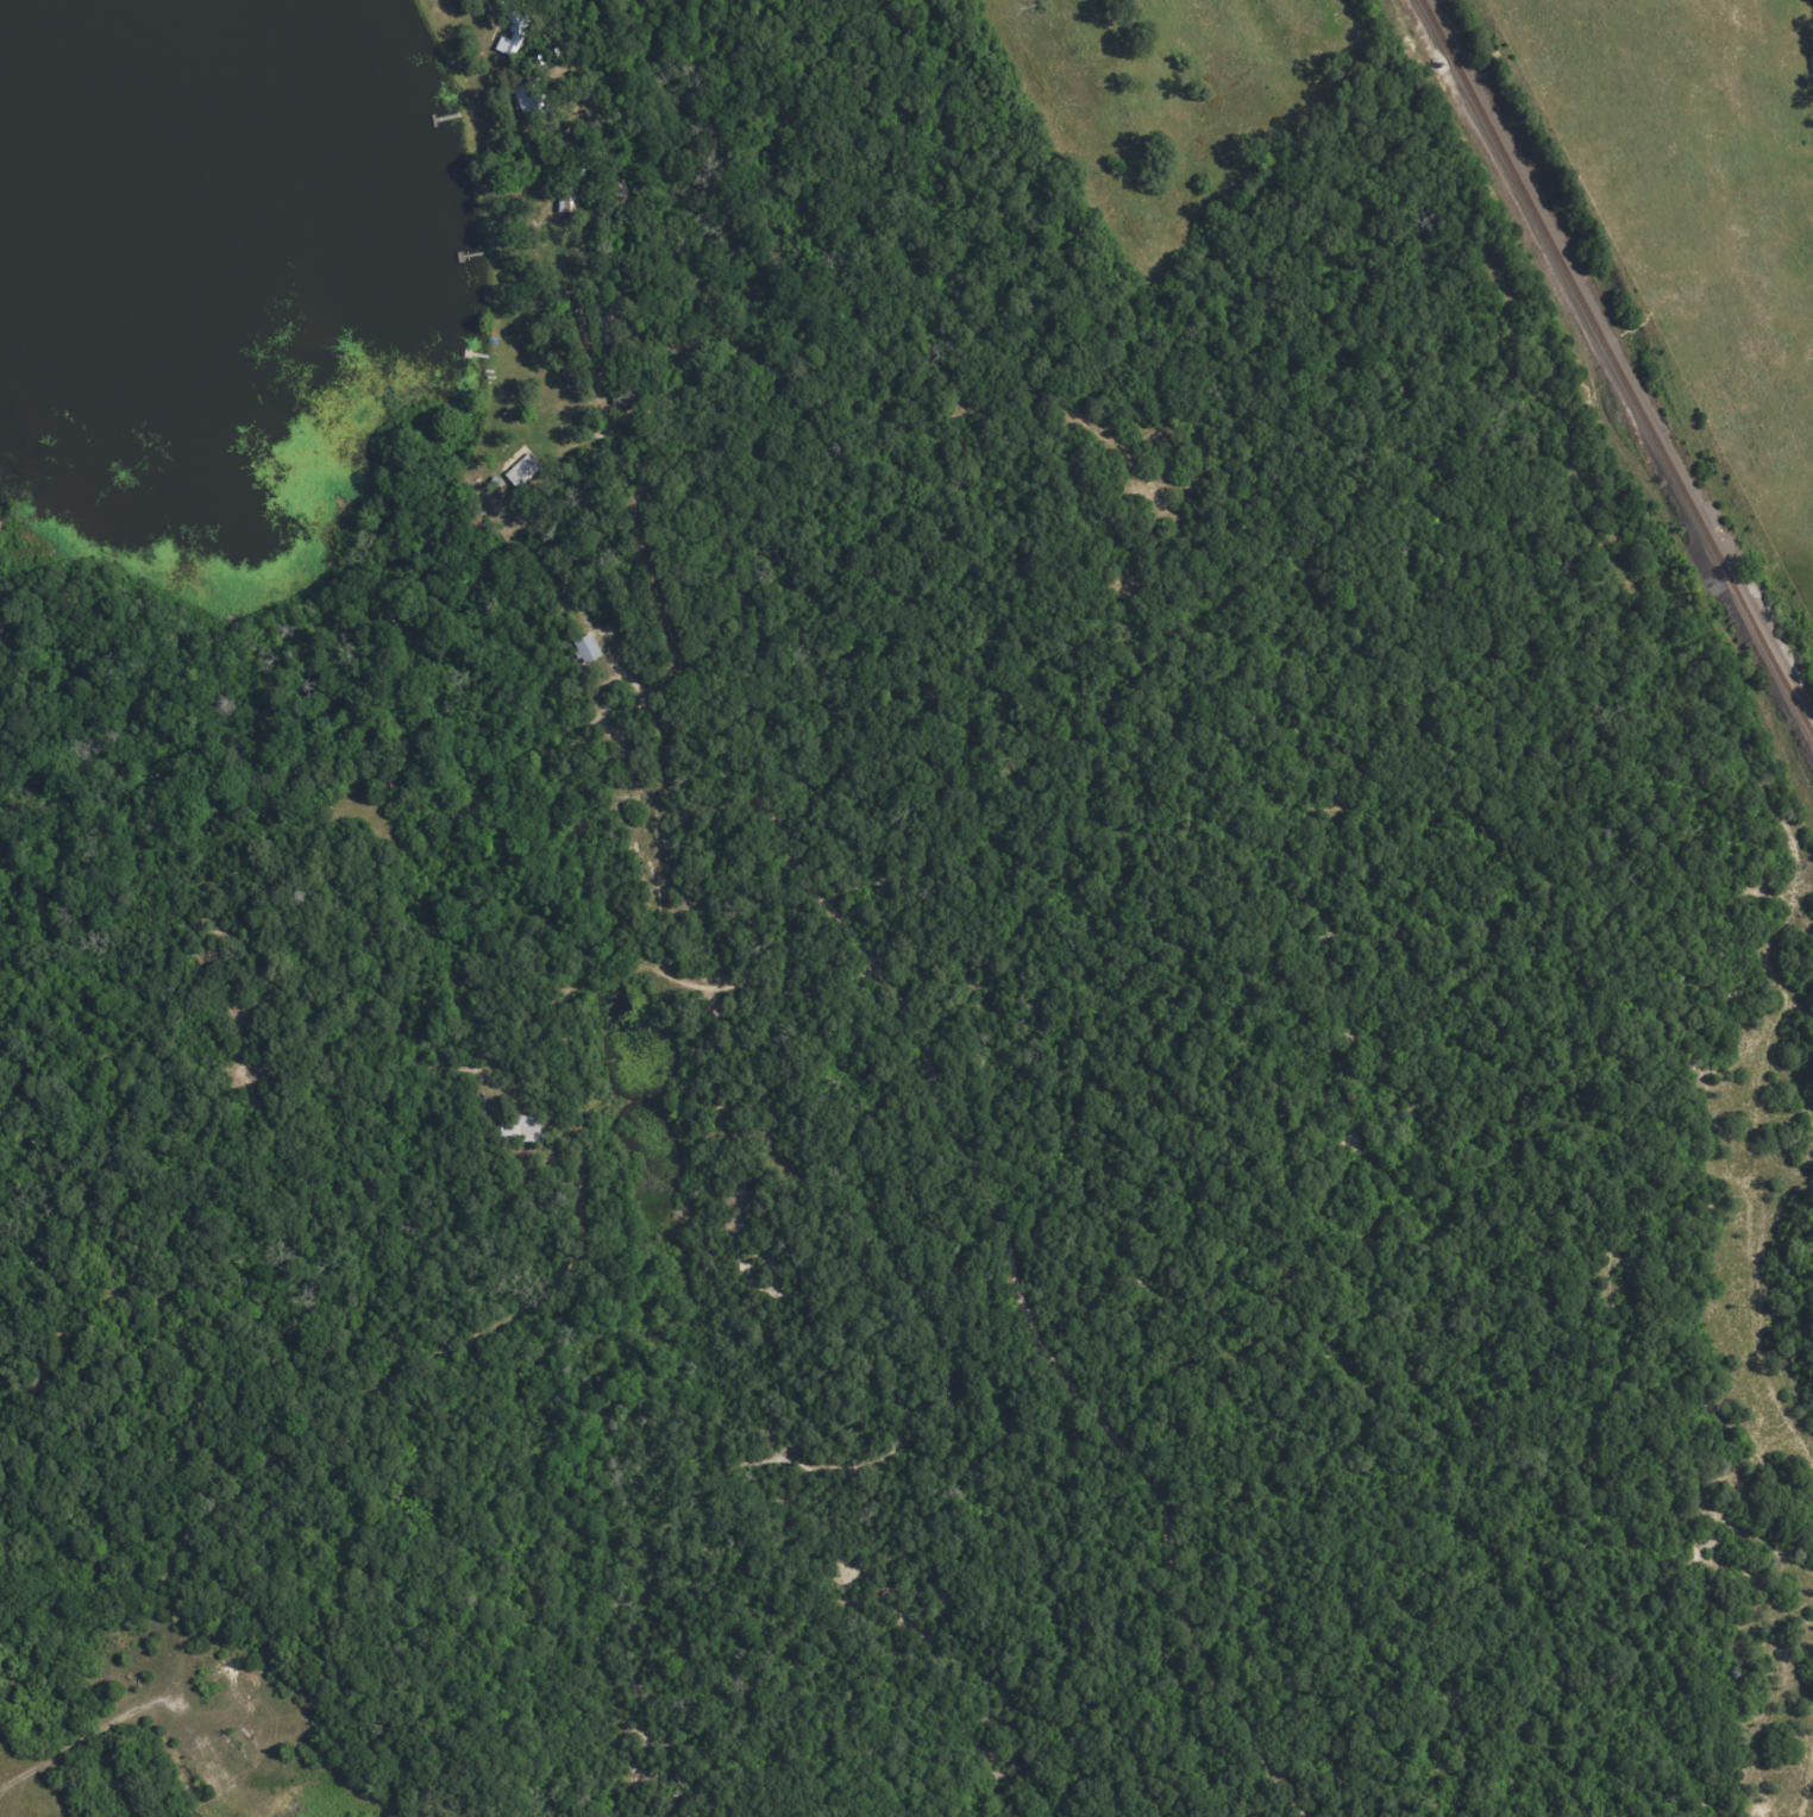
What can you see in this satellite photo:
building: (514, 34)
railway: (1614, 372)
road: (519, 570)
building: (589, 649)
road: (30, 794)
road: (877, 920)
building: (526, 1127)

